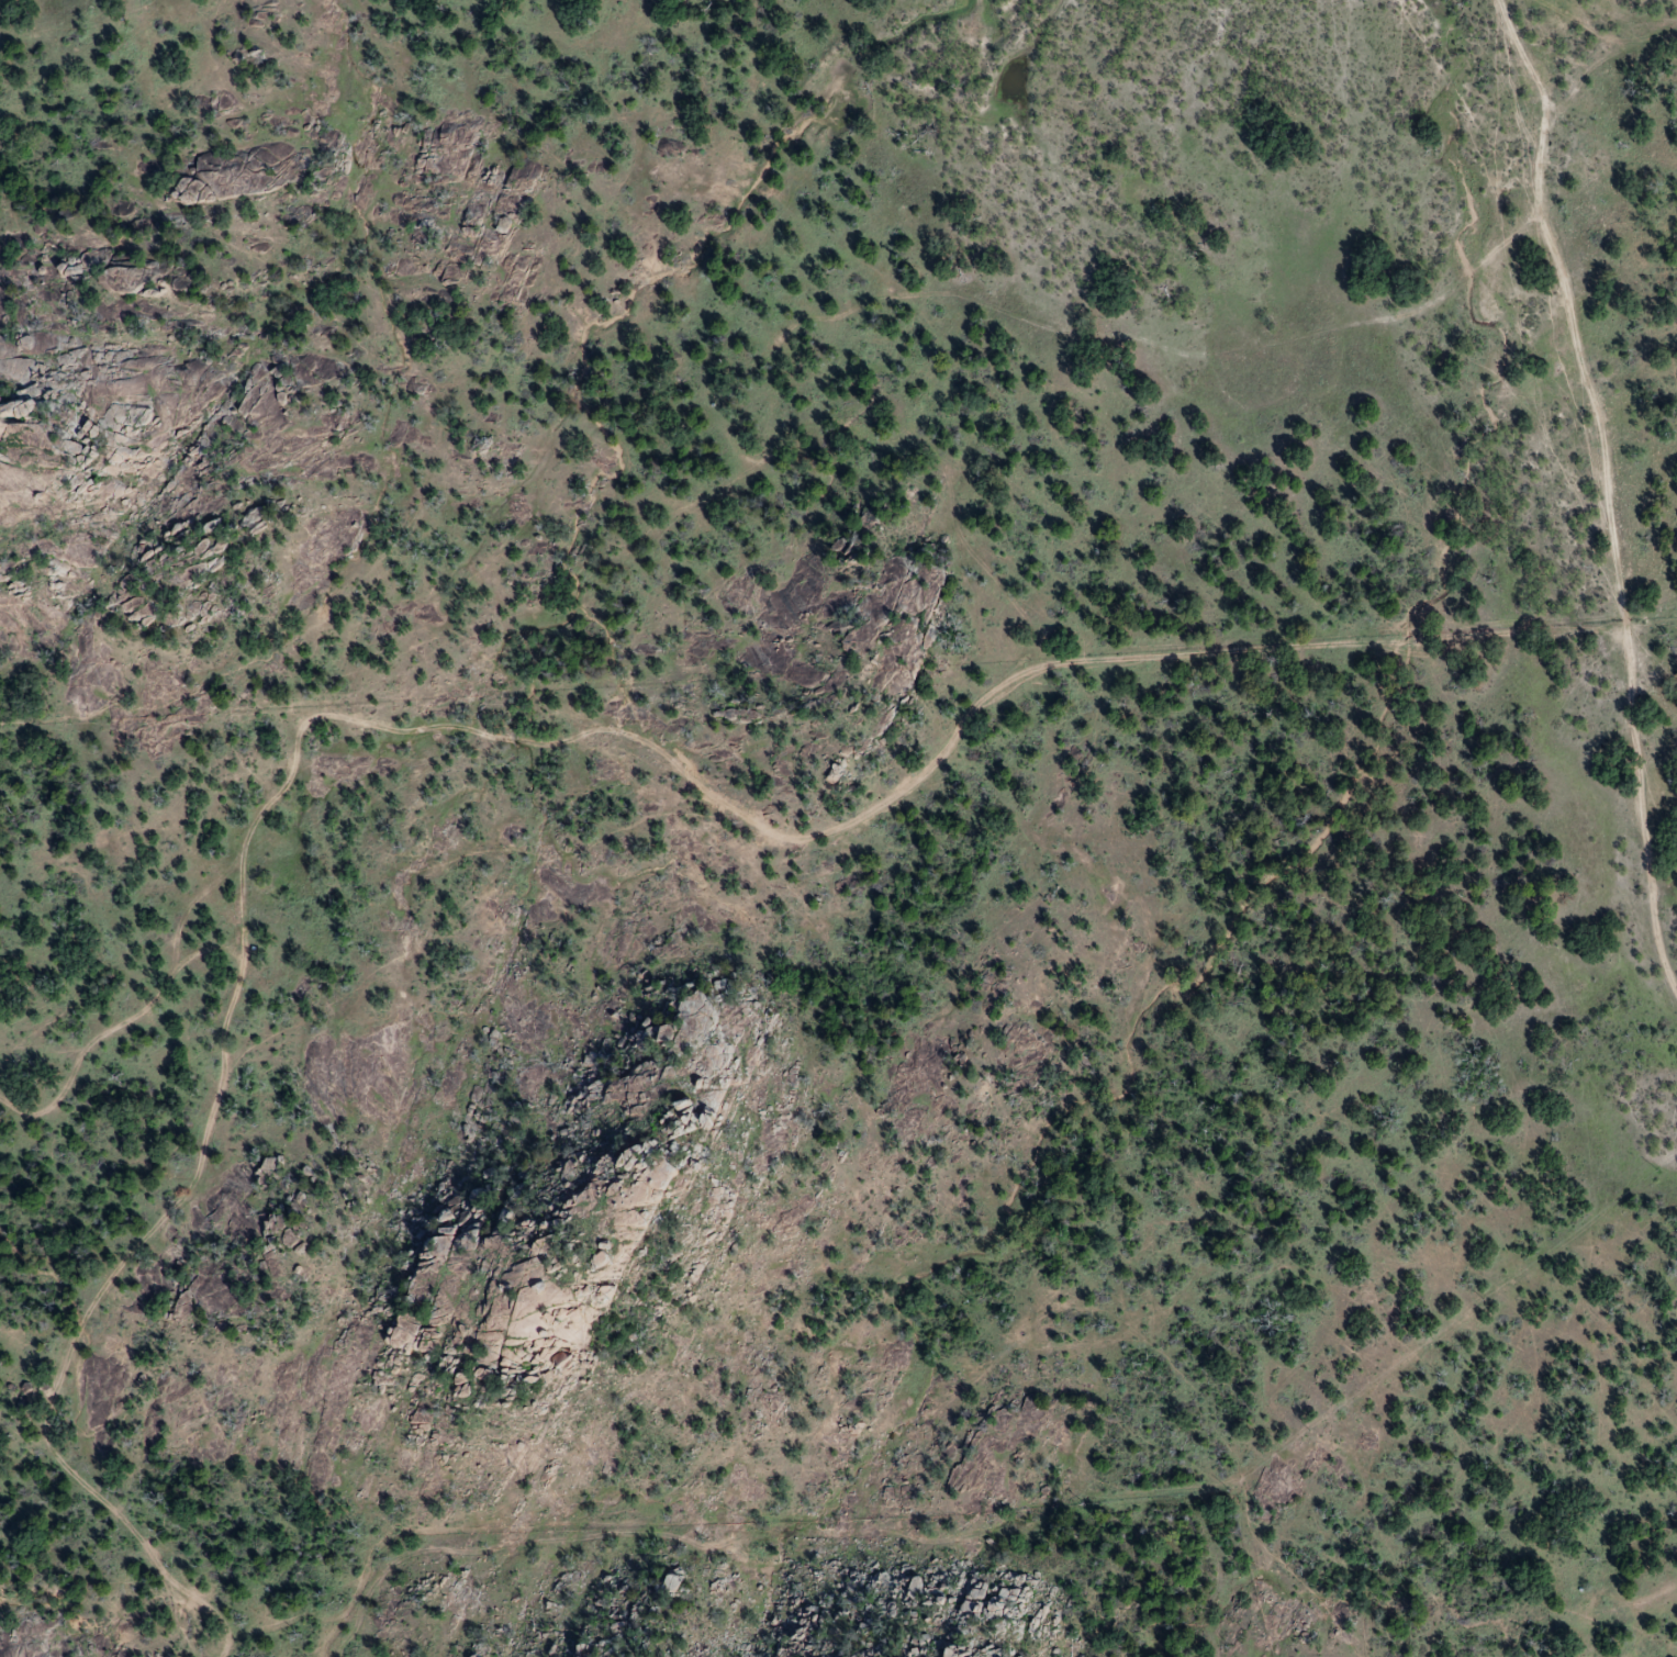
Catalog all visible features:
building: (402, 1341)

